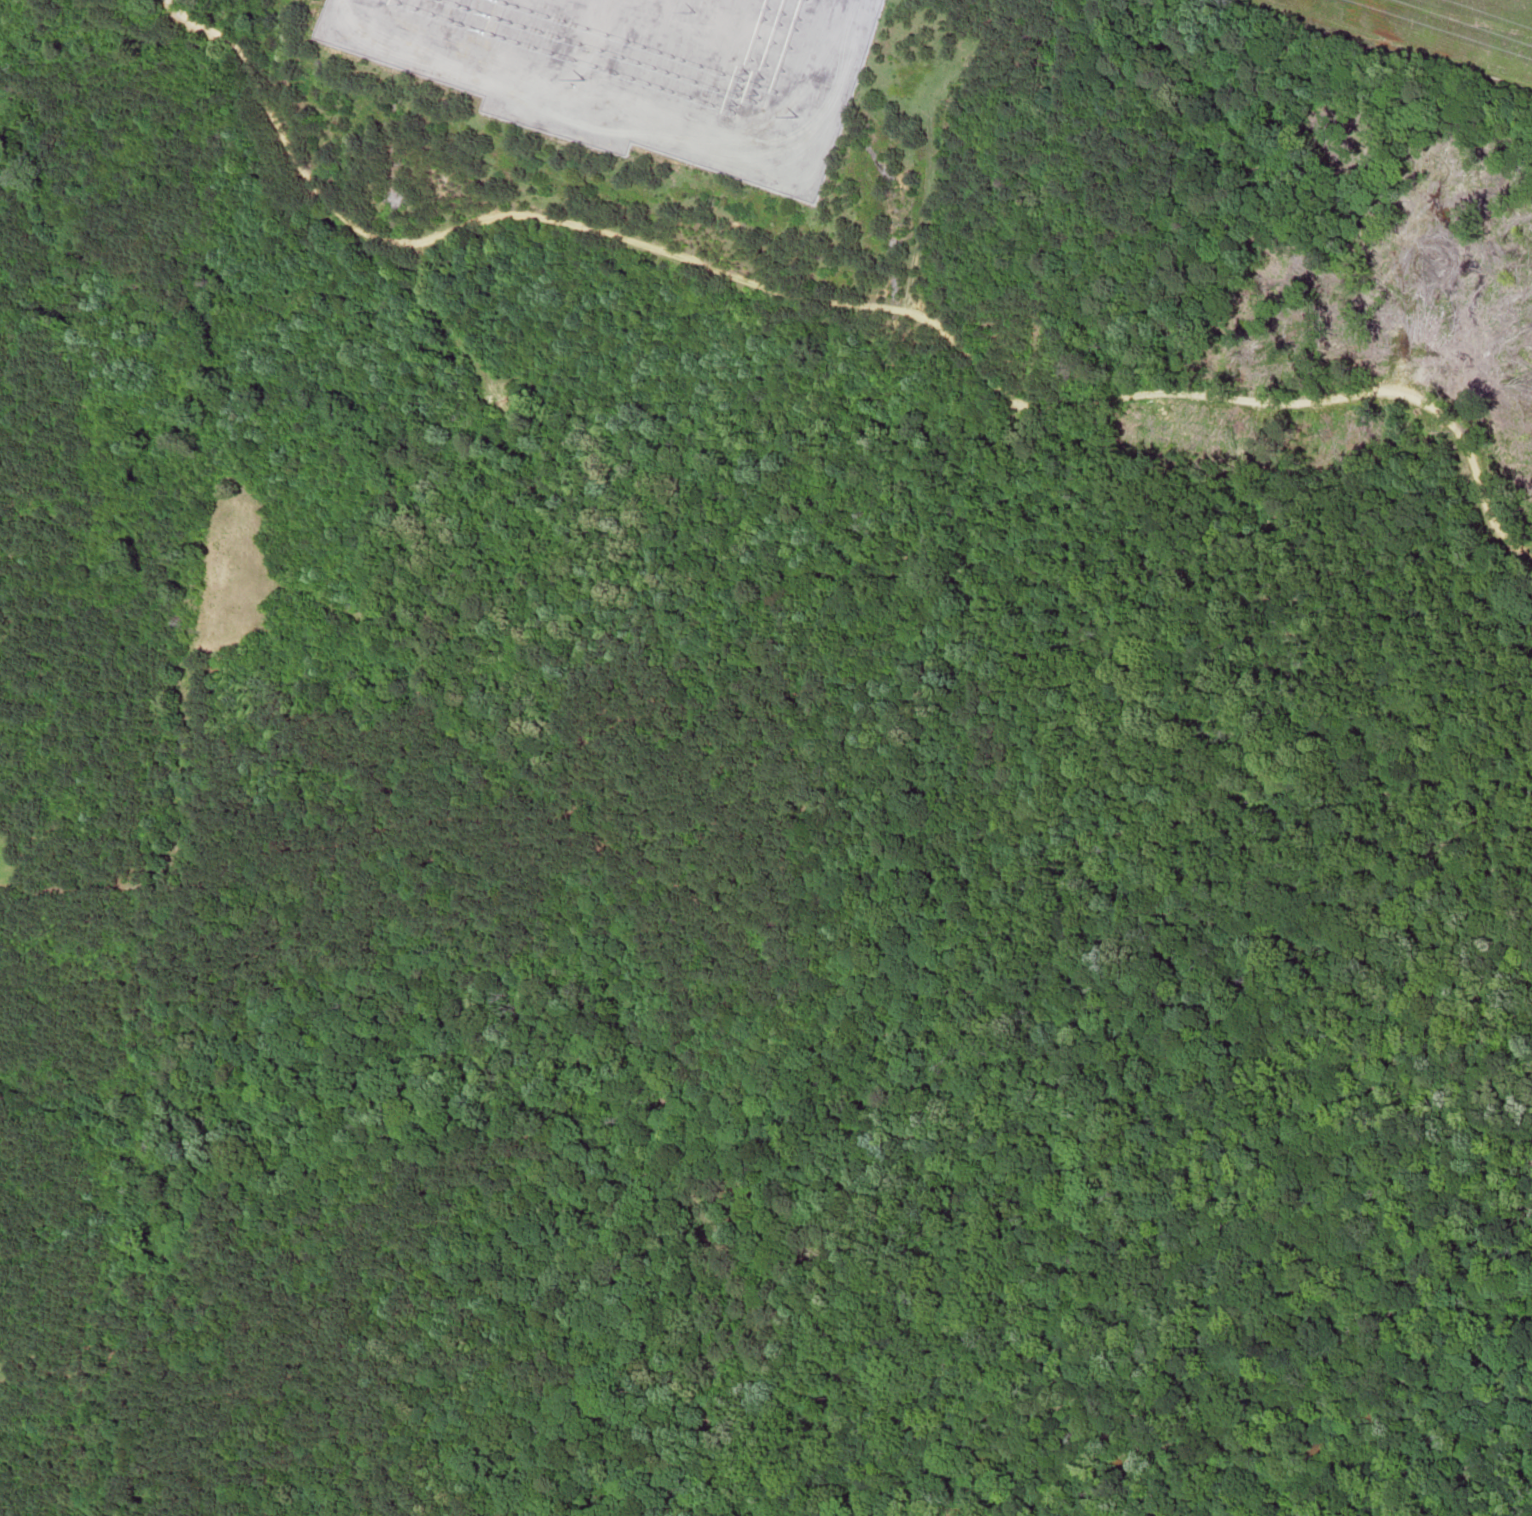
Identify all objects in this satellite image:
power substation: (635, 71)

